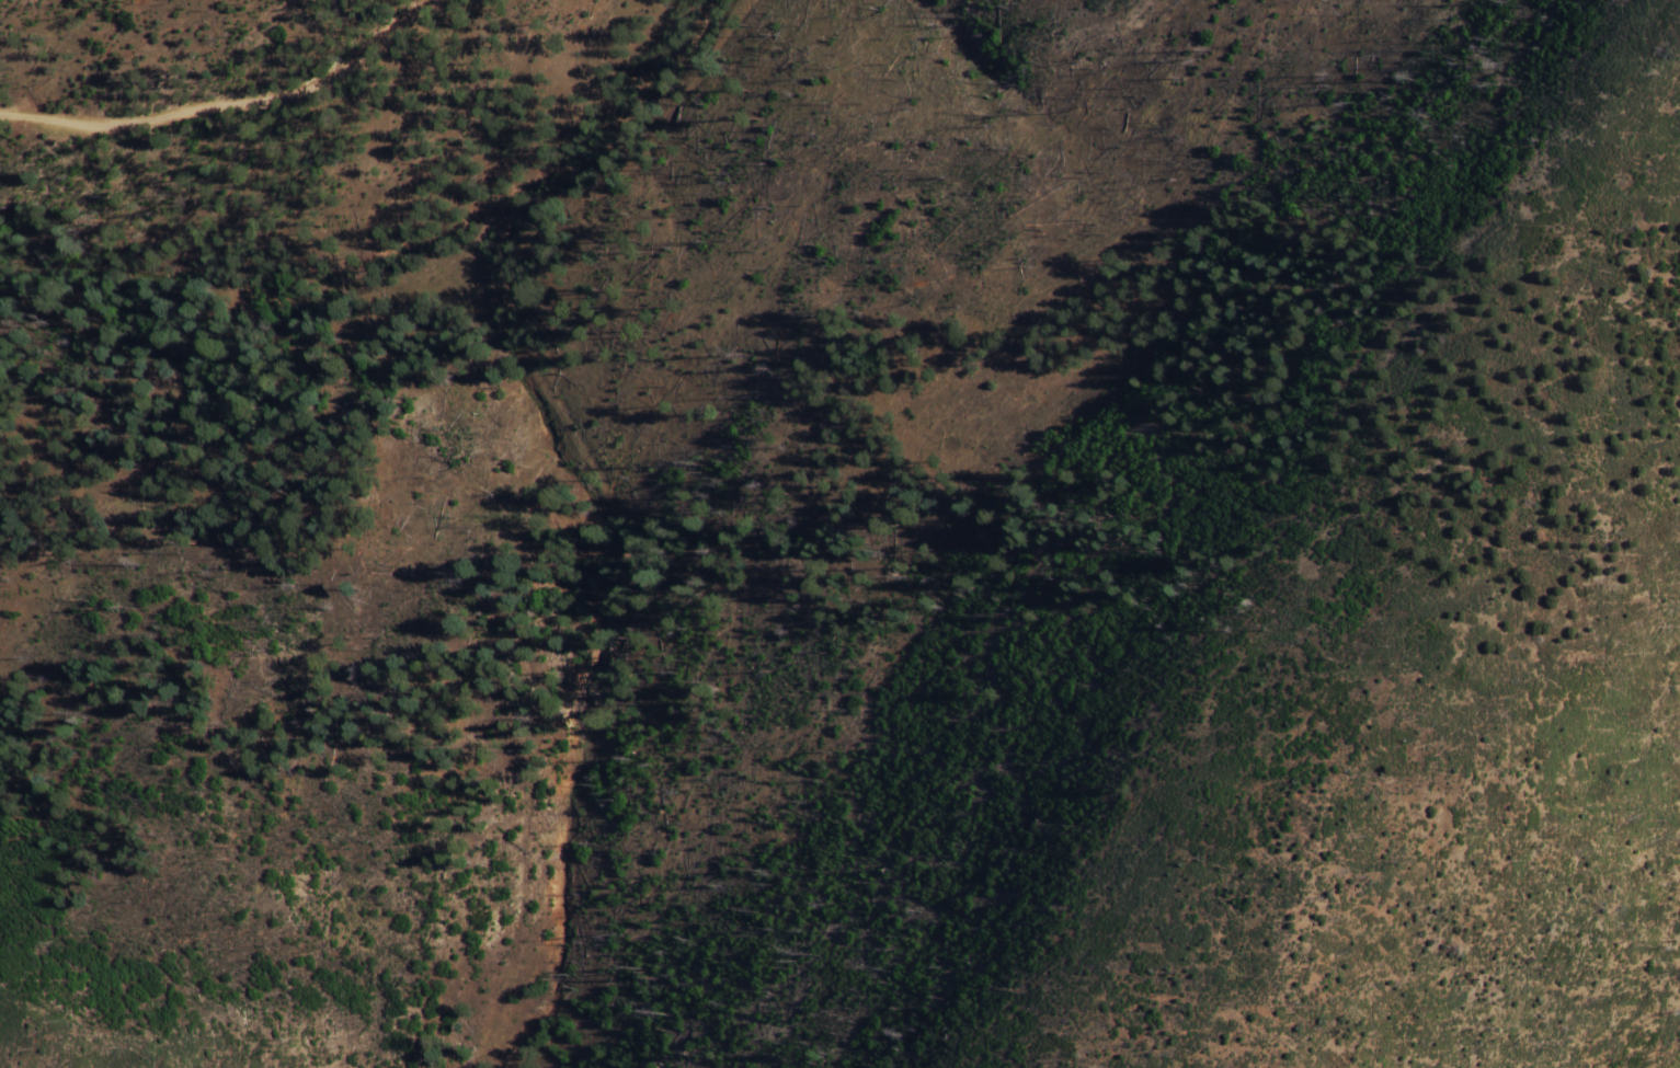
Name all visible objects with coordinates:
road: (226, 102)

